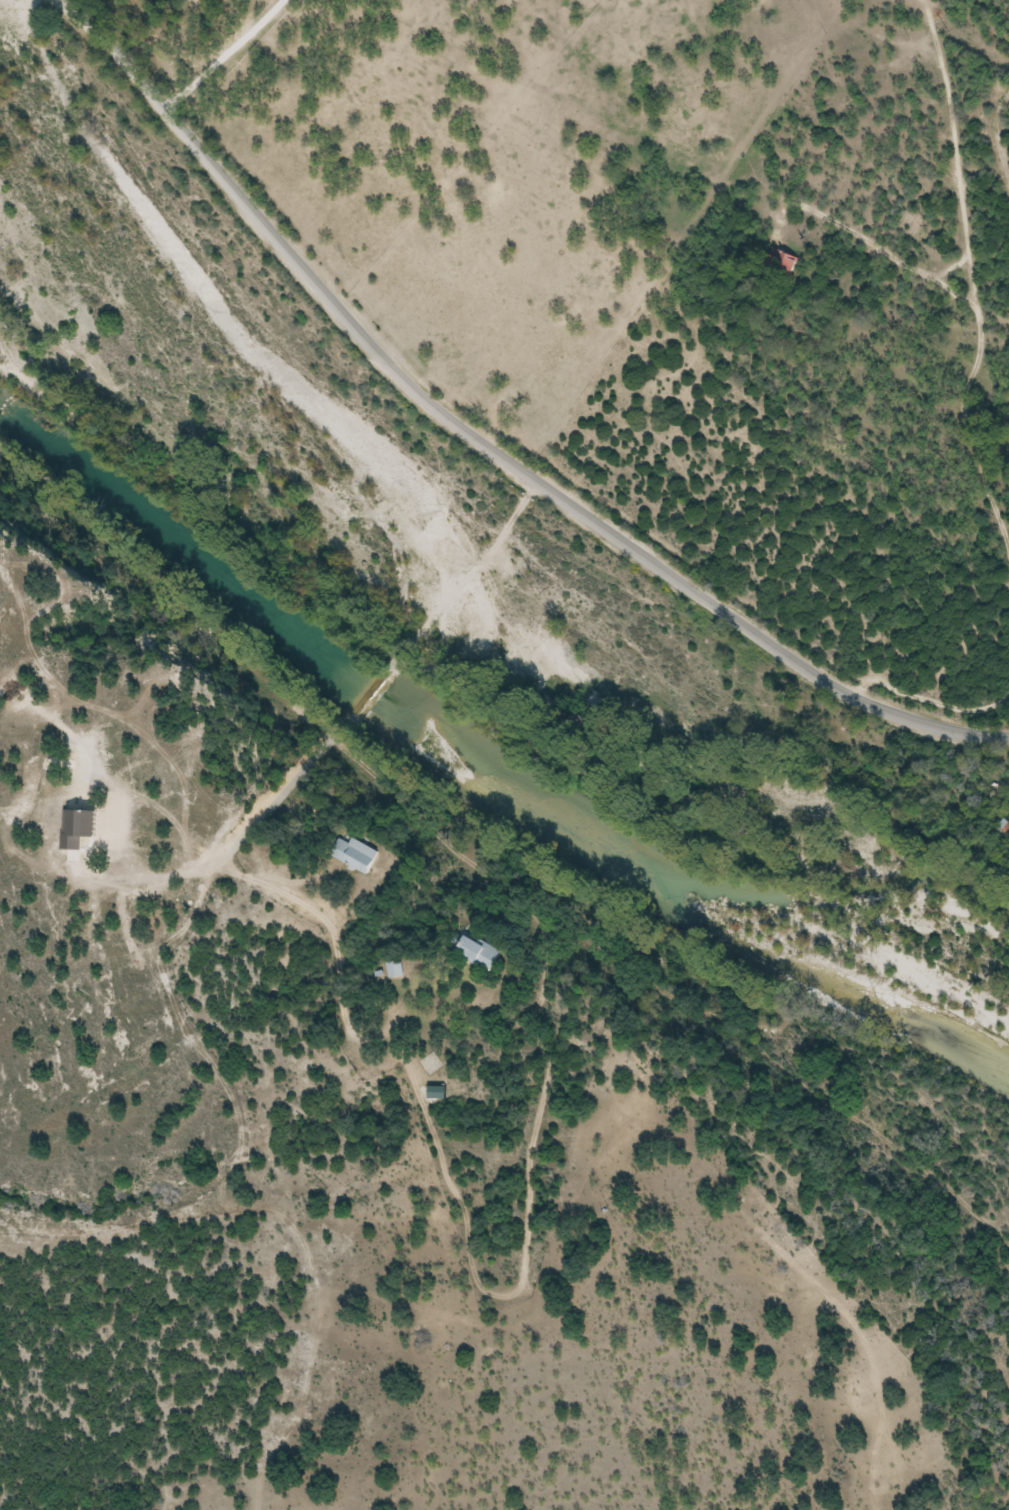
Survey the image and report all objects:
road: (228, 54)
road: (485, 439)
river: (482, 769)
building: (362, 855)
building: (483, 953)
building: (397, 968)

